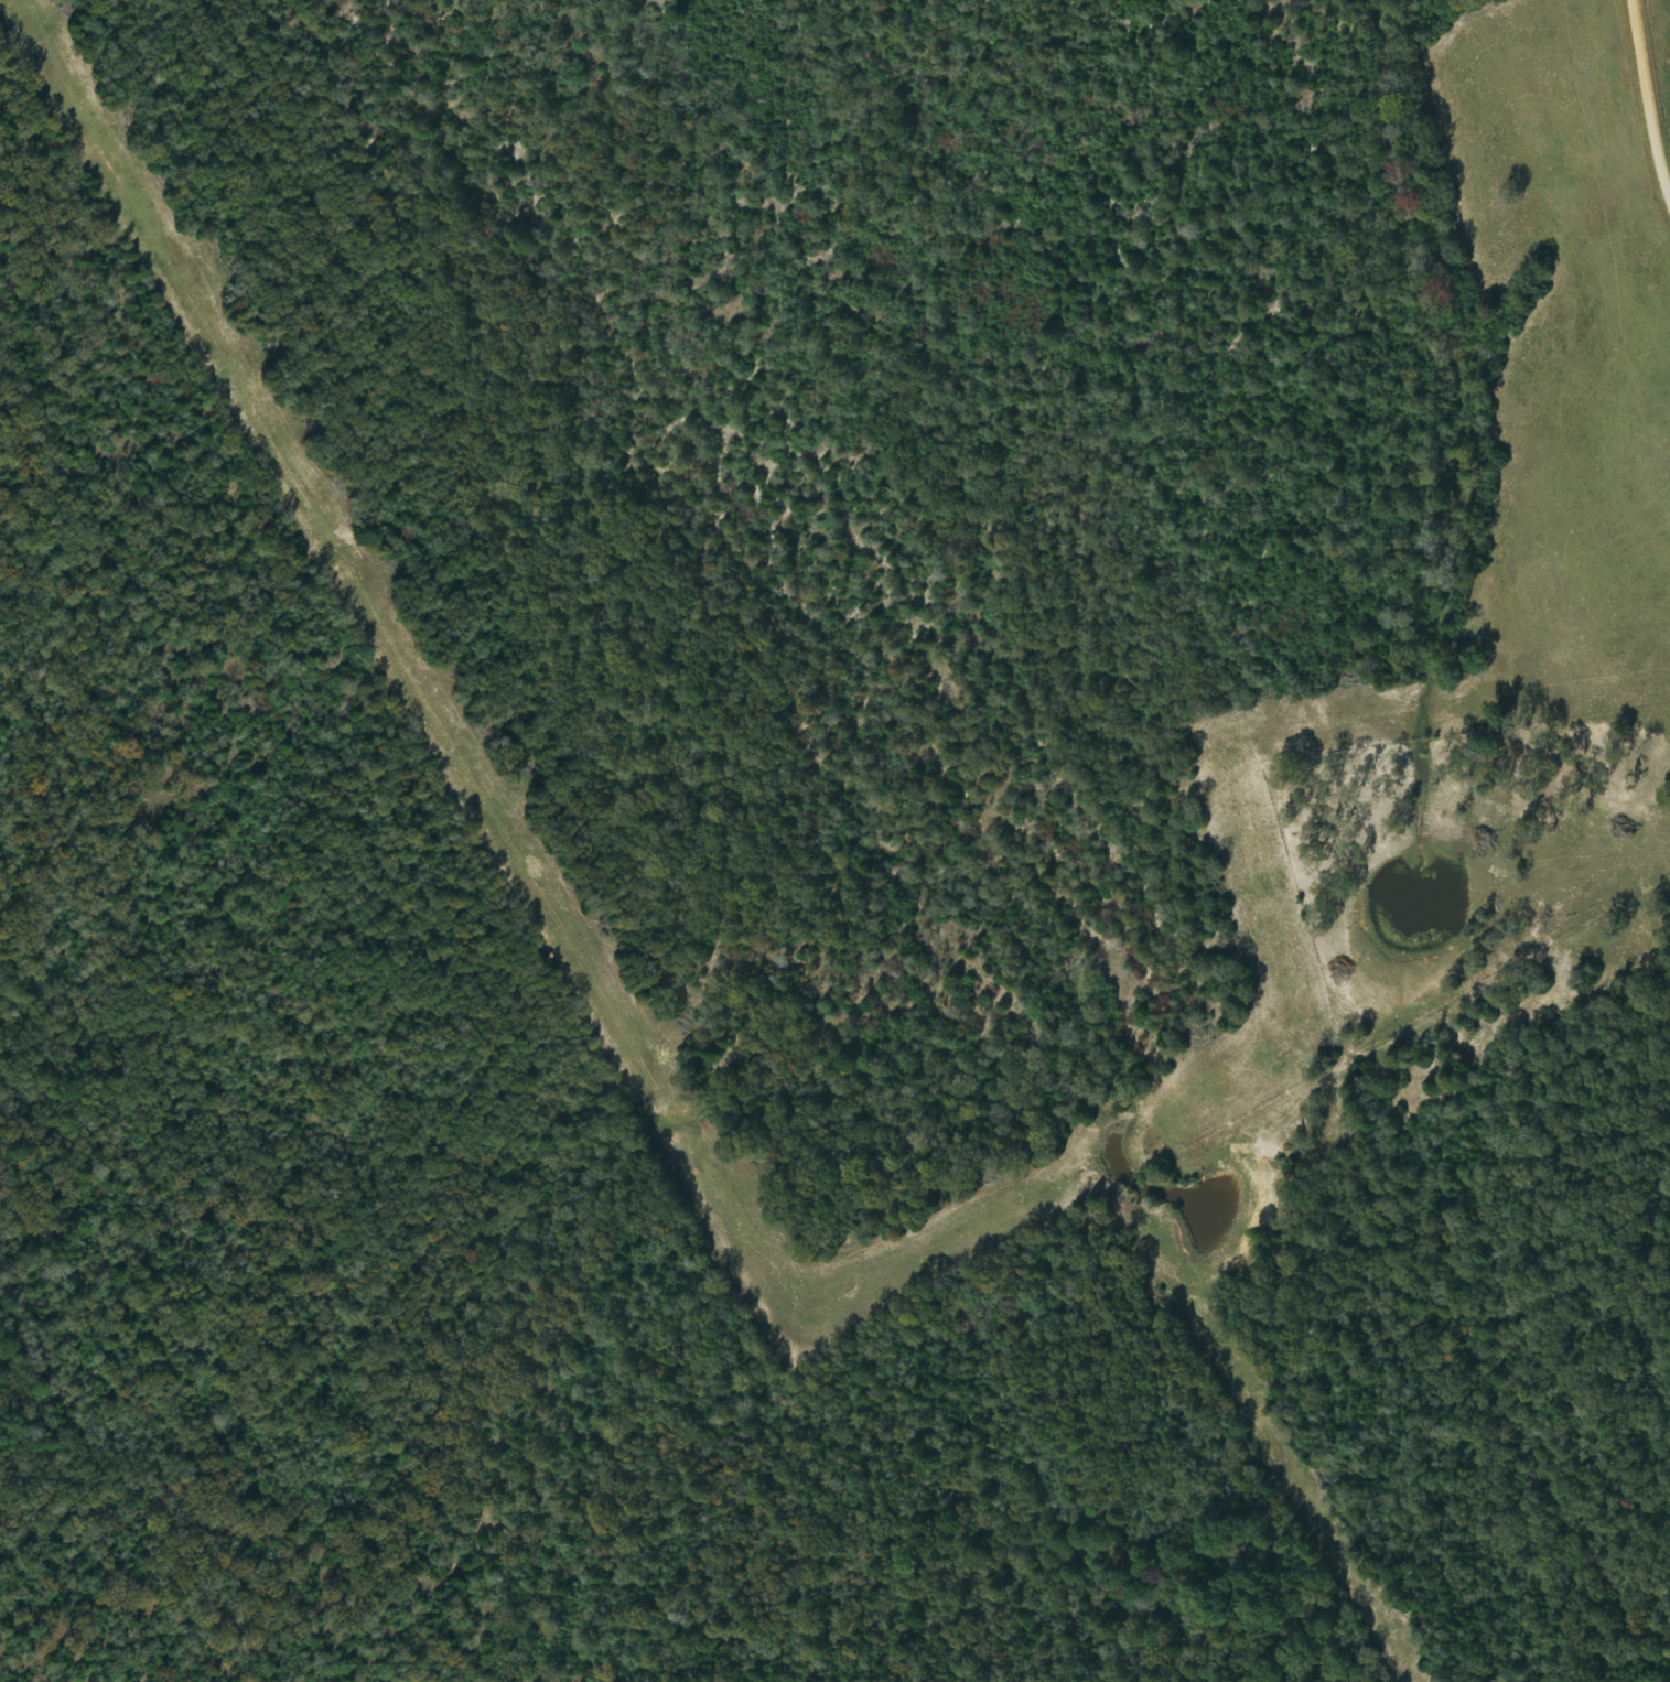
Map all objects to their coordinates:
road: (1655, 91)

